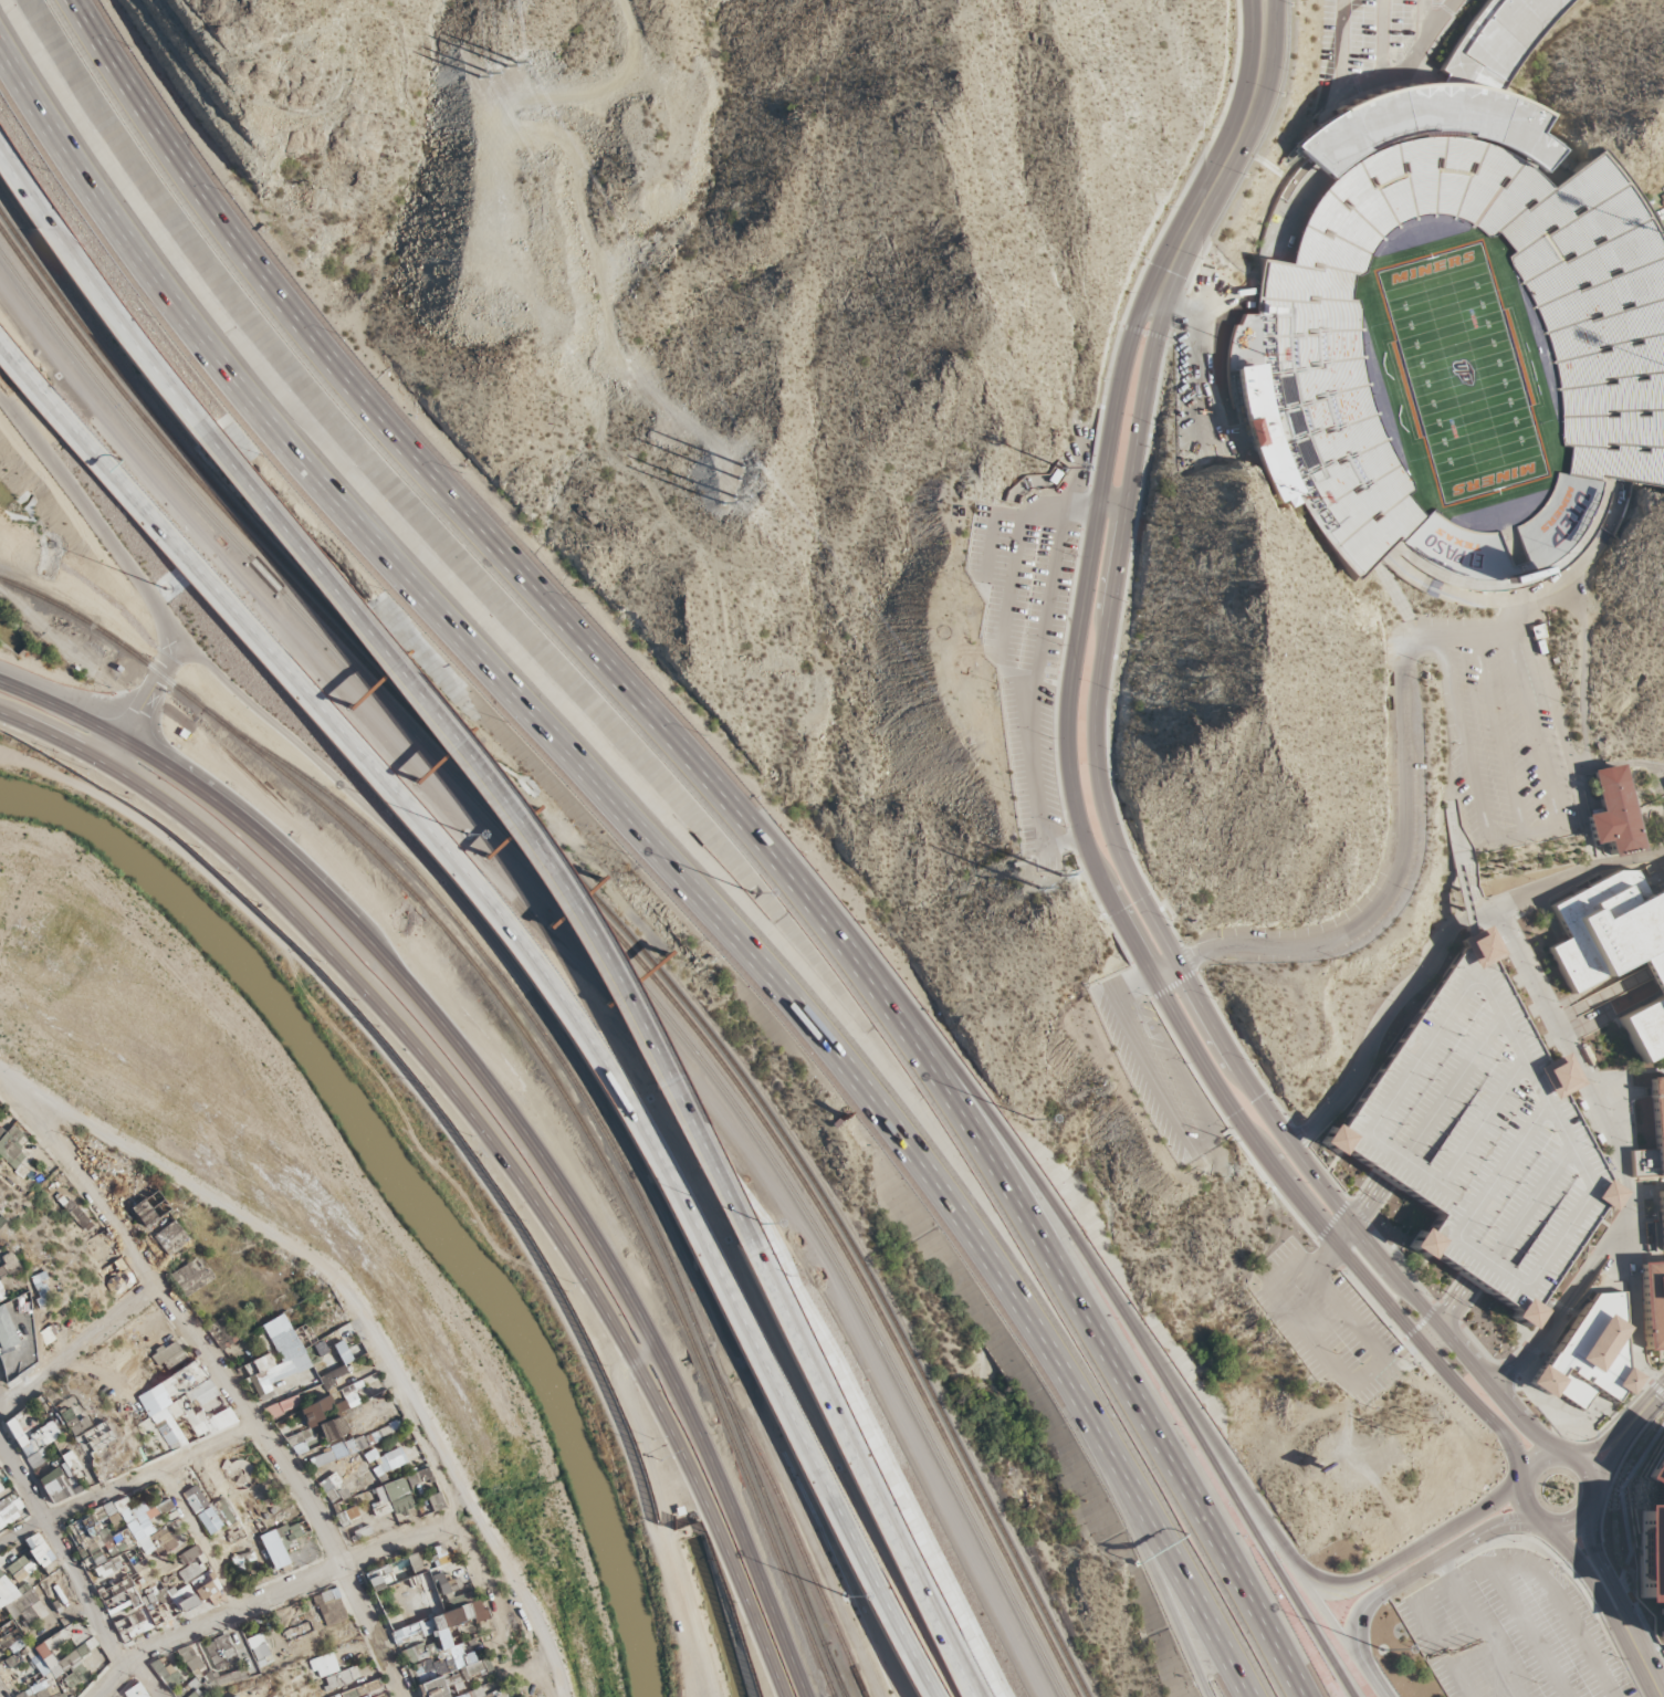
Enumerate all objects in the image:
power tower: (505, 11)
road: (1422, 24)
parking lot: (1379, 35)
road: (1381, 39)
road: (1436, 41)
power tower: (464, 42)
road: (1367, 81)
building: (1451, 94)
road: (100, 277)
road: (608, 281)
road: (1176, 311)
power tower: (542, 363)
building: (1308, 365)
stadium: (1458, 365)
parking lot: (1210, 366)
power tower: (500, 374)
park: (1463, 374)
road: (51, 392)
road: (1223, 402)
building: (1060, 468)
building: (1053, 476)
road: (1130, 479)
power tower: (753, 480)
road: (1112, 505)
power tower: (741, 514)
road: (1014, 515)
road: (1011, 588)
railway: (105, 632)
parking lot: (1027, 646)
road: (1033, 698)
road: (146, 702)
parking lot: (1500, 731)
road: (681, 748)
road: (1466, 754)
road: (1573, 761)
road: (1451, 787)
road: (1070, 794)
road: (604, 795)
building: (1611, 814)
road: (1456, 829)
road: (1537, 831)
road: (1402, 847)
road: (1462, 858)
railway: (415, 868)
road: (1469, 877)
road: (1473, 889)
power tower: (1054, 898)
road: (1462, 899)
road: (1480, 905)
railway: (604, 910)
railway: (598, 920)
railway: (592, 930)
power tower: (1036, 932)
road: (1438, 950)
building: (1616, 951)
road: (1141, 982)
road: (620, 984)
road: (1607, 992)
road: (587, 1028)
parking lot: (1155, 1069)
road: (9, 1071)
road: (1622, 1072)
road: (9, 1075)
road: (504, 1104)
building: (1657, 1114)
road: (483, 1130)
building: (1480, 1136)
parking lot: (1480, 1136)
power tower: (1226, 1142)
railway: (595, 1146)
road: (1197, 1148)
road: (1620, 1156)
power tower: (1213, 1180)
river: (407, 1185)
road: (1645, 1187)
road: (1045, 1193)
road: (1361, 1212)
building: (1660, 1217)
road: (1352, 1225)
road: (280, 1250)
road: (1321, 1254)
road: (1630, 1260)
building: (1652, 1305)
road: (1447, 1313)
road: (364, 1322)
parking lot: (1326, 1323)
road: (77, 1343)
road: (645, 1352)
building: (1589, 1355)
road: (1656, 1374)
road: (1346, 1377)
road: (223, 1380)
railway: (719, 1385)
road: (1656, 1389)
power tower: (1422, 1418)
road: (1621, 1424)
power tower: (1392, 1433)
road: (1623, 1443)
road: (1524, 1474)
road: (127, 1480)
building: (209, 1517)
road: (724, 1519)
road: (1465, 1519)
road: (1605, 1522)
building: (1649, 1534)
road: (196, 1538)
road: (1259, 1541)
road: (1275, 1541)
road: (1457, 1547)
road: (1583, 1554)
road: (60, 1558)
road: (1389, 1564)
road: (1506, 1568)
road: (1308, 1571)
road: (1567, 1572)
road: (475, 1576)
road: (1153, 1578)
road: (1615, 1591)
road: (271, 1592)
road: (1599, 1594)
road: (515, 1595)
road: (1260, 1623)
road: (1356, 1625)
road: (1480, 1627)
road: (1210, 1632)
parking lot: (1511, 1633)
road: (1529, 1634)
power tower: (1472, 1644)
road: (1658, 1649)
power tower: (1440, 1652)
road: (959, 1655)
road: (1455, 1665)
railway: (834, 1670)
road: (140, 1678)
road: (1654, 1686)
railway: (834, 1696)
railway: (834, 1696)

